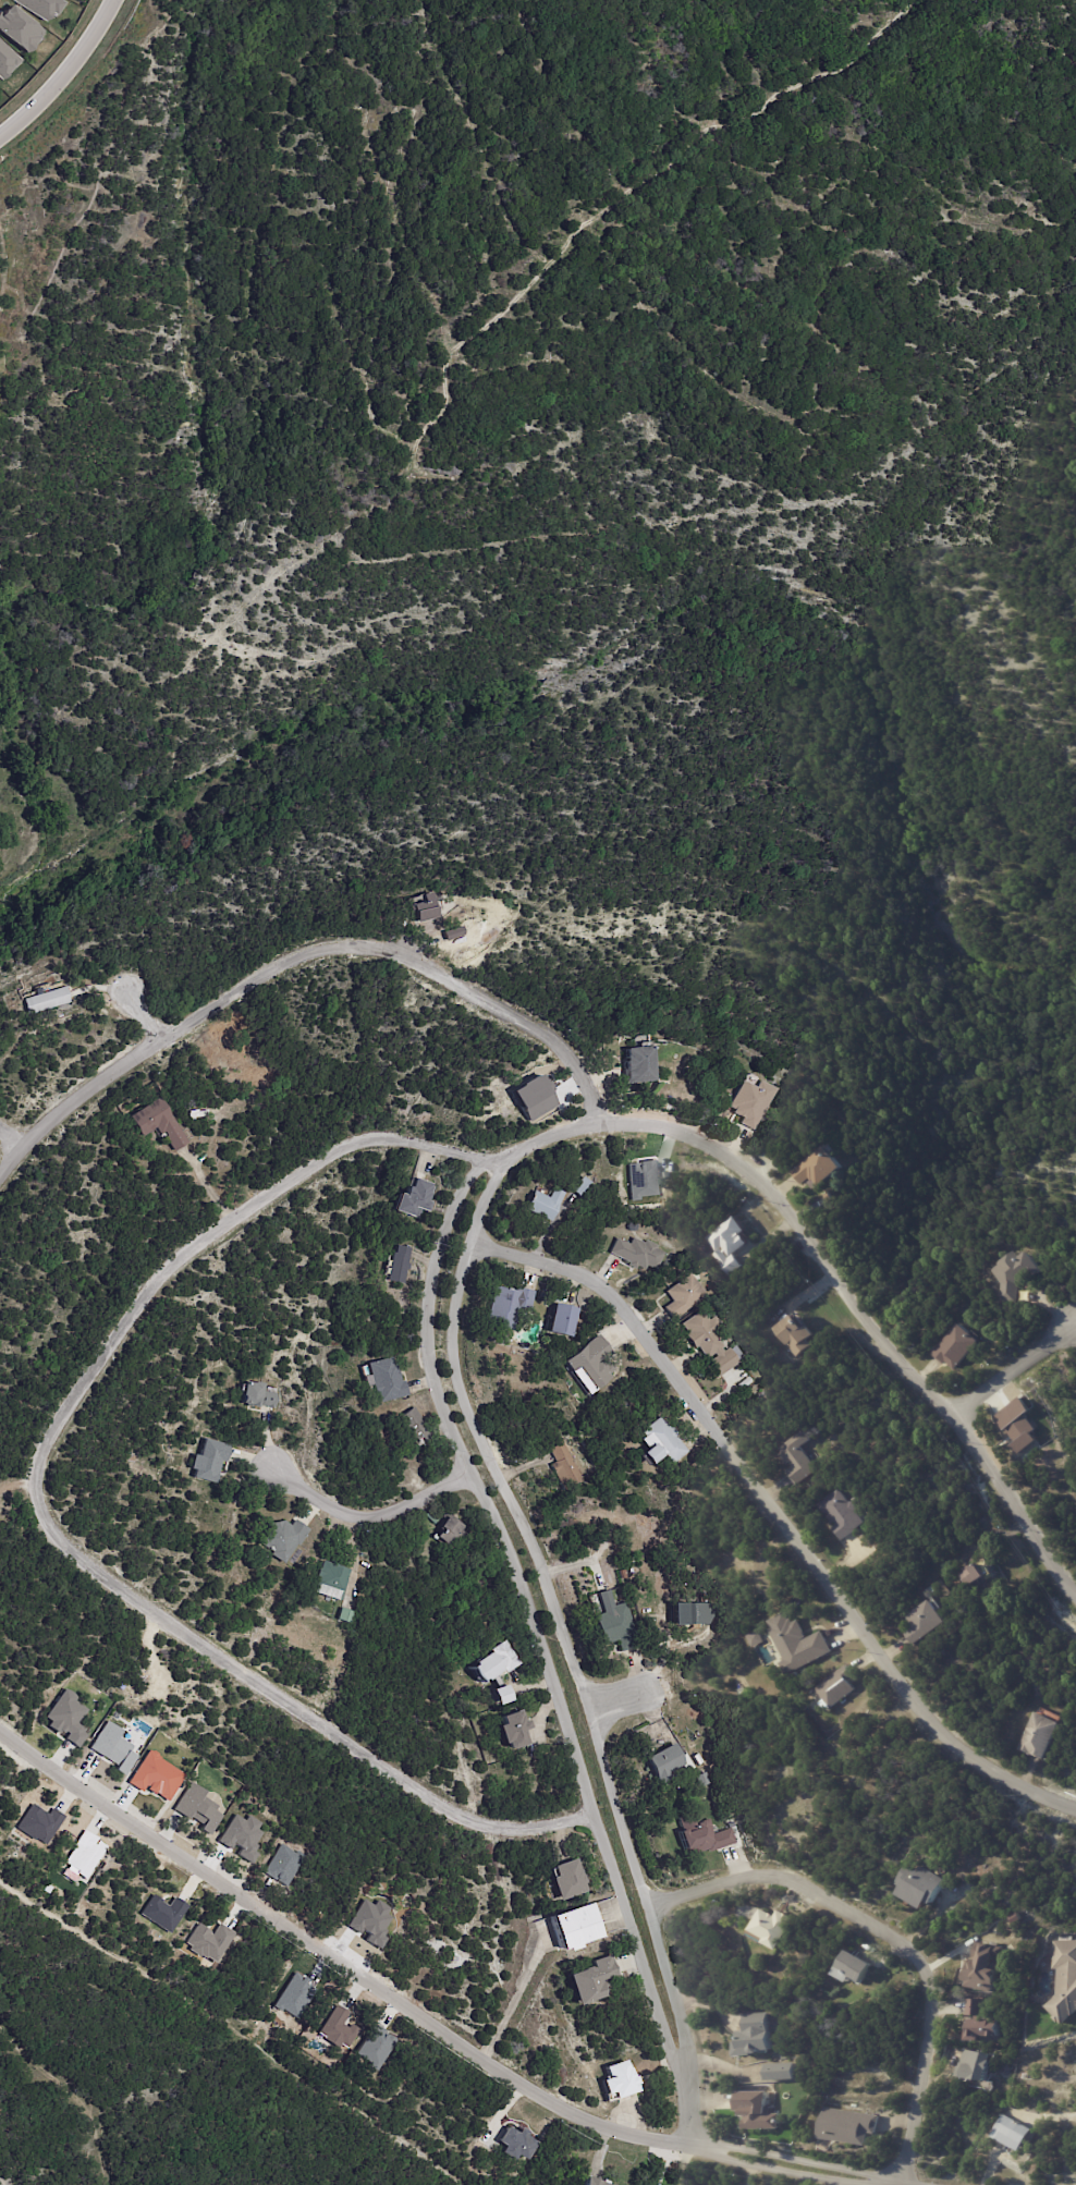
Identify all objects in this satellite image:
building: (17, 28)
building: (5, 60)
road: (60, 73)
building: (427, 910)
building: (455, 936)
road: (302, 961)
building: (47, 1000)
road: (152, 1014)
building: (641, 1064)
building: (751, 1102)
building: (159, 1123)
road: (14, 1136)
building: (822, 1168)
building: (640, 1179)
building: (583, 1188)
building: (417, 1199)
building: (545, 1204)
building: (817, 1204)
building: (632, 1226)
building: (735, 1245)
building: (638, 1254)
building: (401, 1266)
road: (833, 1266)
building: (1017, 1274)
building: (683, 1296)
building: (509, 1307)
building: (564, 1321)
building: (773, 1327)
building: (800, 1335)
building: (708, 1342)
building: (959, 1346)
building: (589, 1364)
road: (1017, 1370)
building: (387, 1381)
building: (256, 1395)
building: (1017, 1424)
building: (415, 1428)
building: (663, 1443)
building: (800, 1458)
building: (208, 1460)
building: (565, 1468)
building: (241, 1496)
road: (47, 1514)
road: (370, 1514)
building: (845, 1514)
road: (781, 1515)
building: (433, 1518)
building: (453, 1533)
building: (283, 1539)
building: (623, 1575)
building: (975, 1575)
building: (331, 1582)
building: (347, 1616)
building: (697, 1616)
building: (925, 1623)
building: (615, 1625)
building: (802, 1645)
building: (499, 1663)
building: (839, 1687)
road: (618, 1693)
building: (504, 1698)
building: (65, 1717)
building: (515, 1731)
building: (1040, 1737)
building: (112, 1747)
building: (667, 1765)
building: (693, 1766)
building: (705, 1781)
building: (197, 1808)
building: (38, 1823)
building: (704, 1838)
building: (83, 1854)
building: (571, 1879)
building: (924, 1884)
building: (162, 1912)
building: (777, 1927)
building: (576, 1928)
road: (896, 1938)
building: (208, 1941)
road: (335, 1950)
building: (857, 1967)
building: (987, 1967)
building: (594, 1980)
building: (1066, 1980)
road: (511, 2004)
building: (983, 2023)
building: (338, 2028)
building: (758, 2035)
road: (677, 2060)
building: (977, 2065)
building: (782, 2072)
building: (621, 2080)
road: (687, 2107)
building: (759, 2111)
building: (851, 2126)
building: (1016, 2134)
building: (518, 2144)
road: (702, 2145)
building: (597, 2182)

